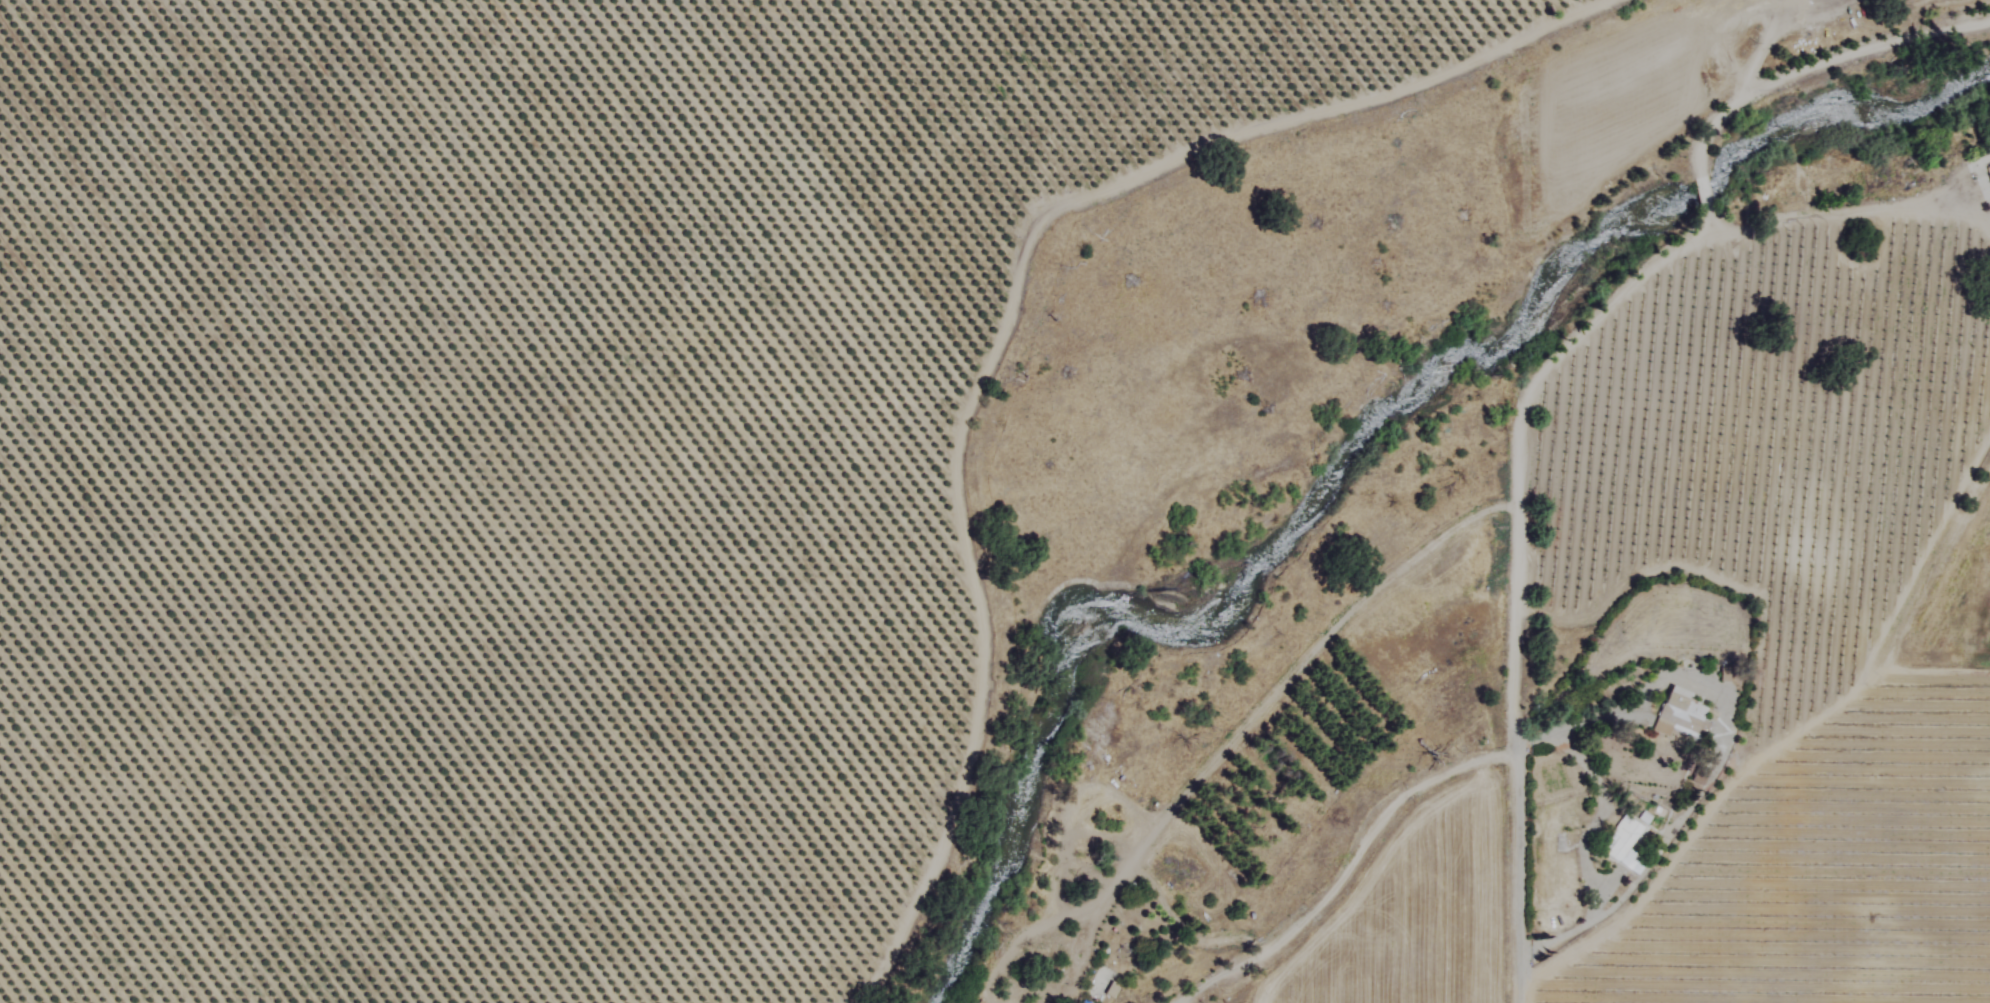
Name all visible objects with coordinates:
road: (1819, 65)
building: (1988, 179)
road: (1704, 195)
road: (1846, 213)
crop: (575, 451)
road: (1519, 567)
crop: (1769, 618)
road: (1273, 694)
building: (1681, 719)
road: (1720, 762)
road: (1731, 791)
building: (1625, 845)
road: (1348, 872)
building: (1111, 991)

